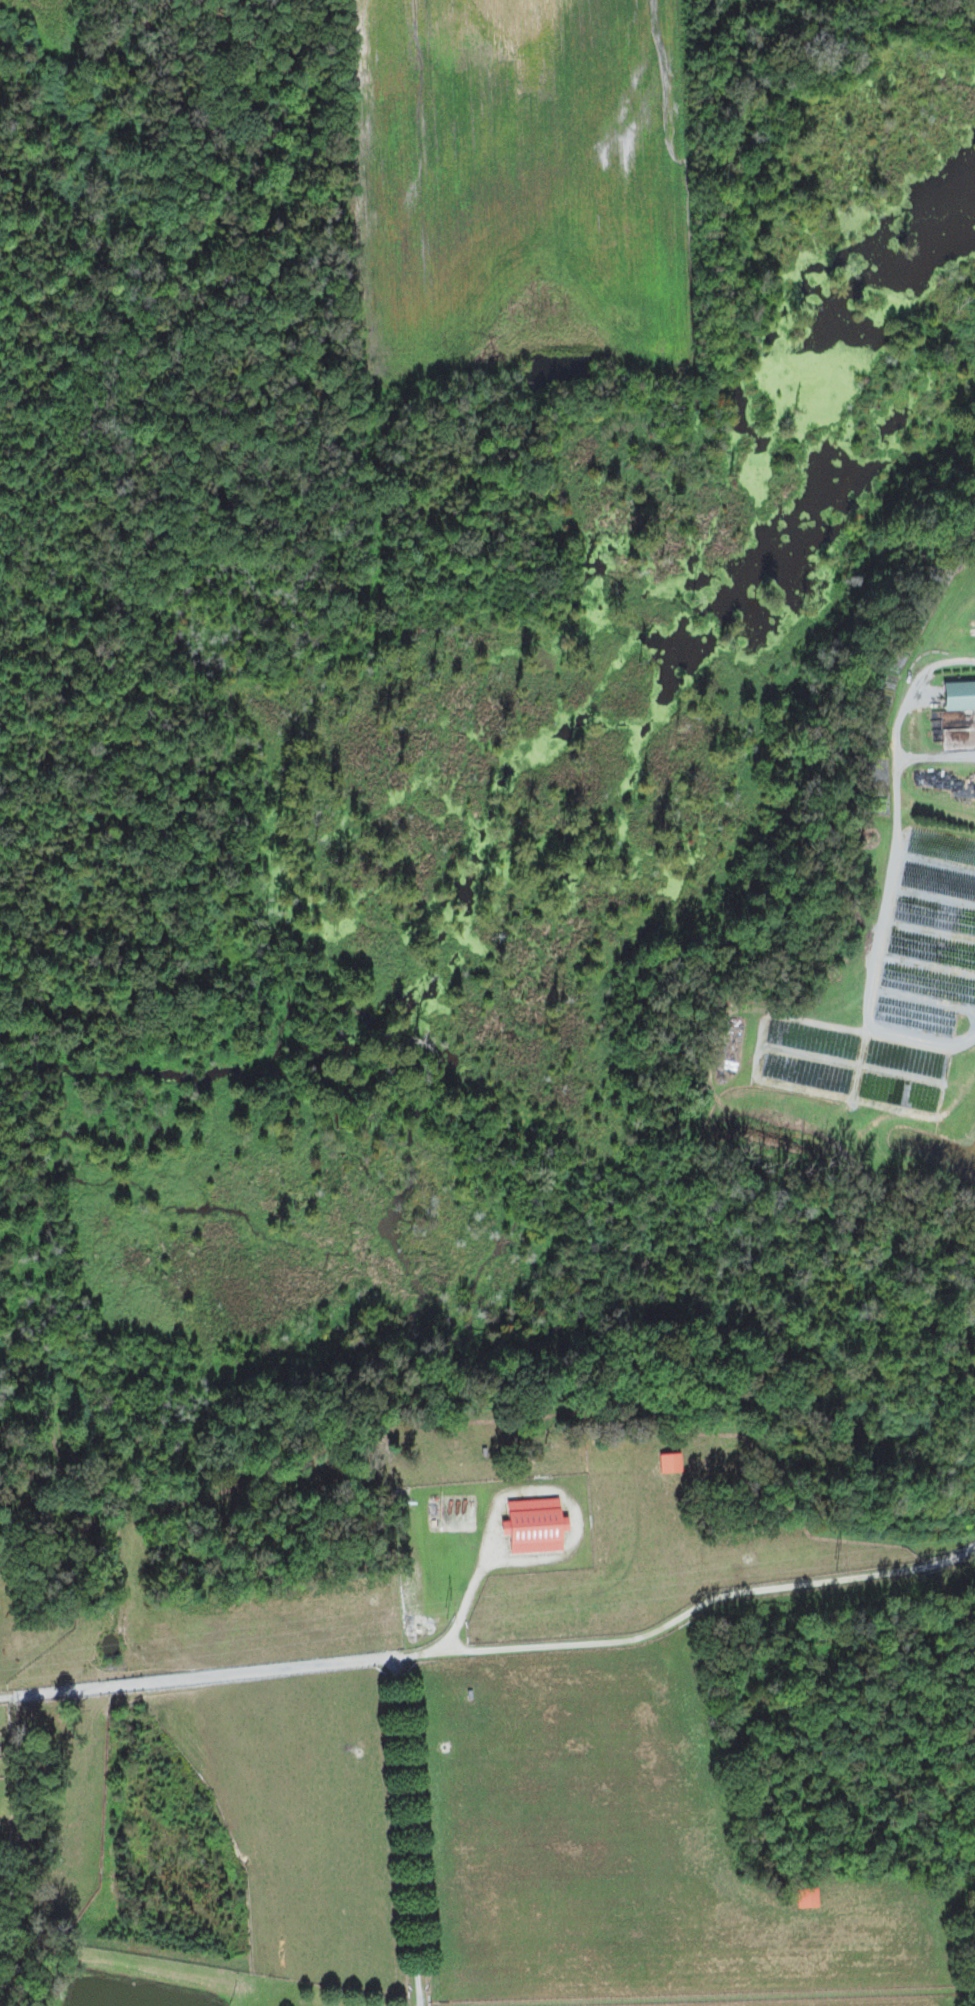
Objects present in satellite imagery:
building: (958, 696)
building: (672, 1463)
building: (537, 1526)
power tower: (832, 1565)
power tower: (446, 1612)
building: (808, 1898)

